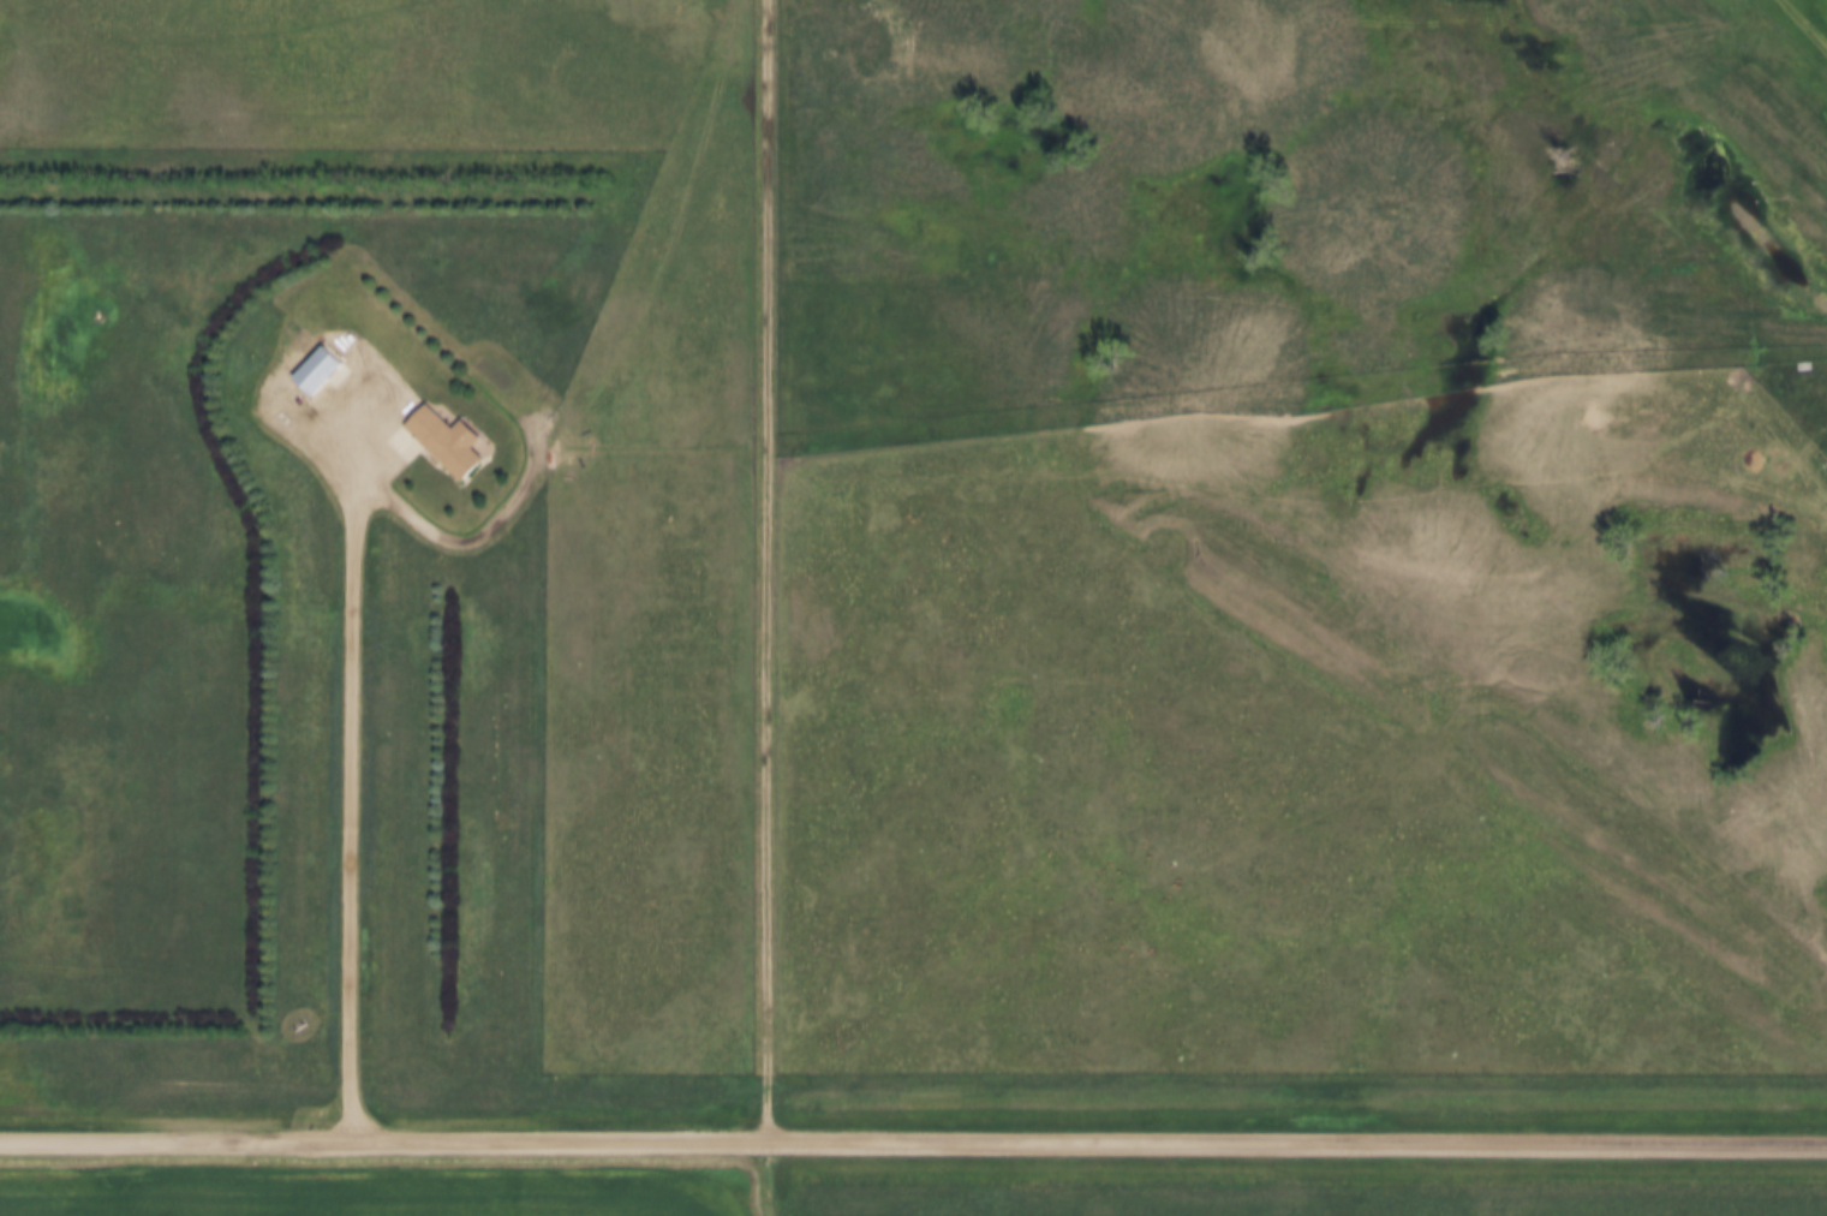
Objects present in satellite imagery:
building: (320, 368)
building: (448, 440)
road: (769, 608)
road: (357, 761)
road: (913, 1137)

